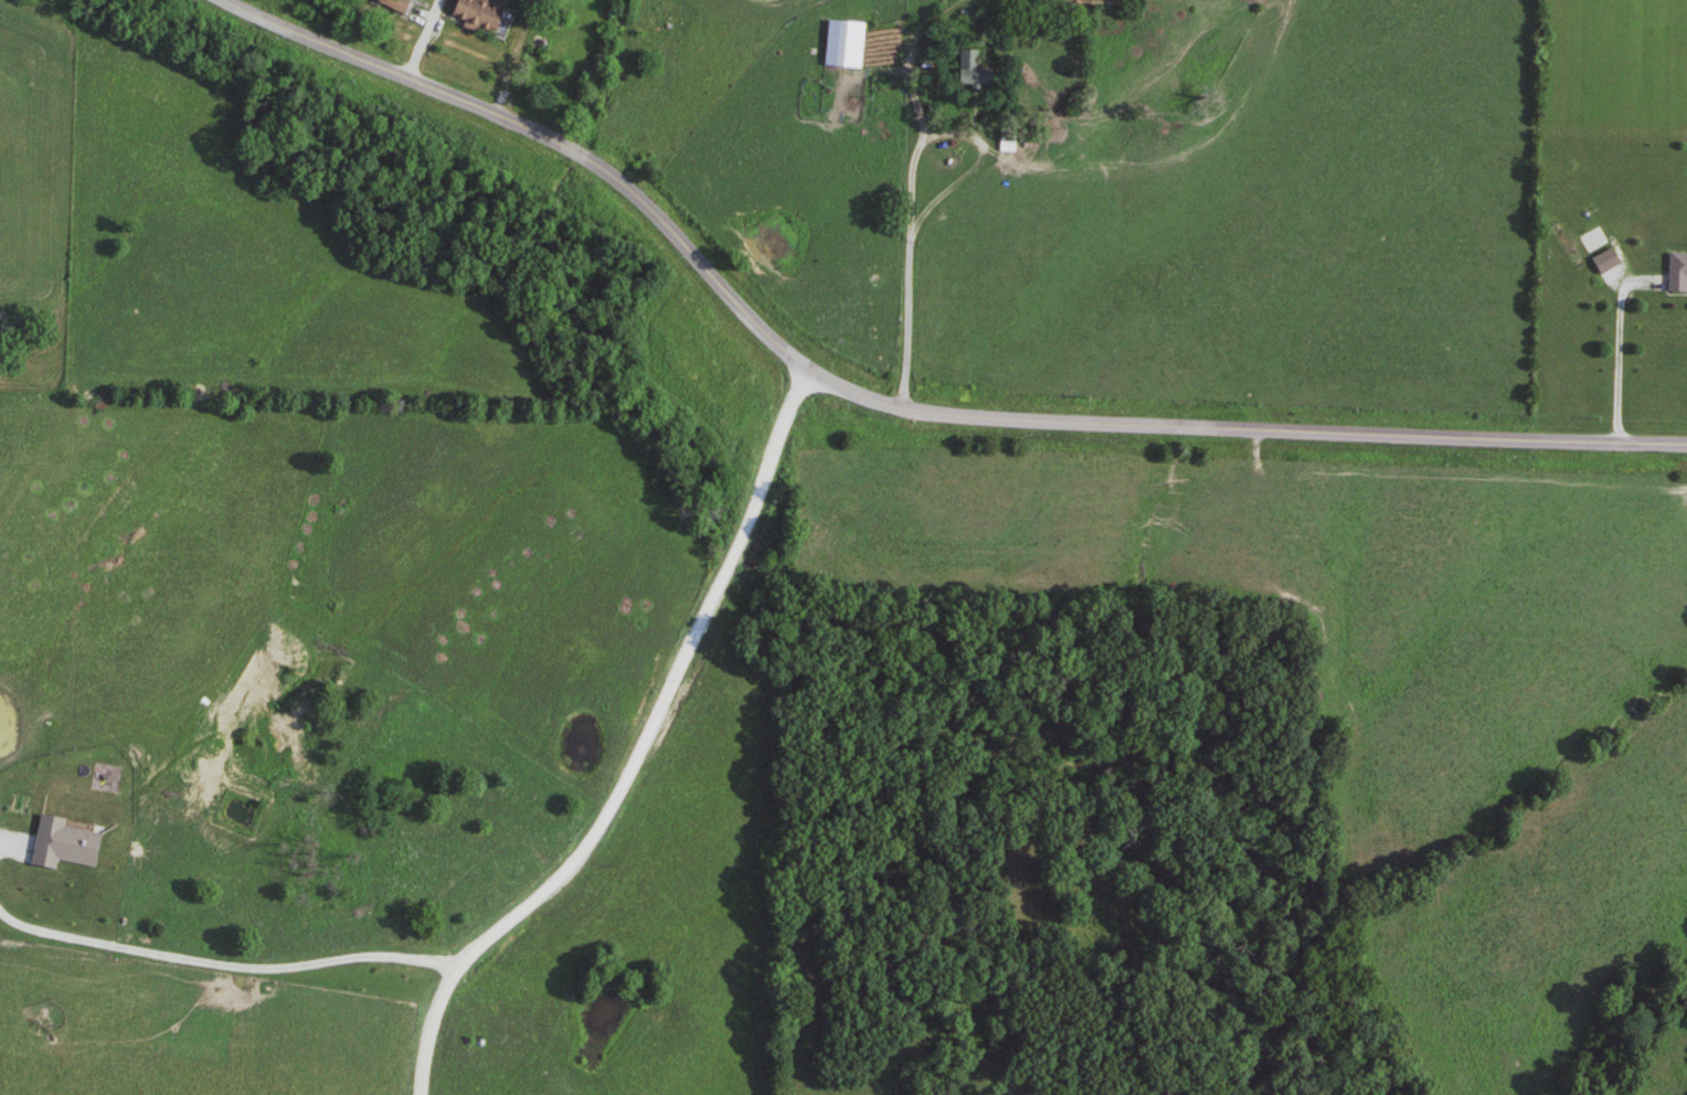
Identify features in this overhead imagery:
building: (396, 3)
building: (482, 14)
road: (424, 41)
building: (845, 43)
road: (508, 61)
building: (973, 67)
building: (1008, 140)
road: (909, 191)
building: (1678, 273)
road: (1613, 349)
road: (889, 407)
road: (634, 756)
building: (404, 848)
building: (439, 885)
road: (224, 964)

